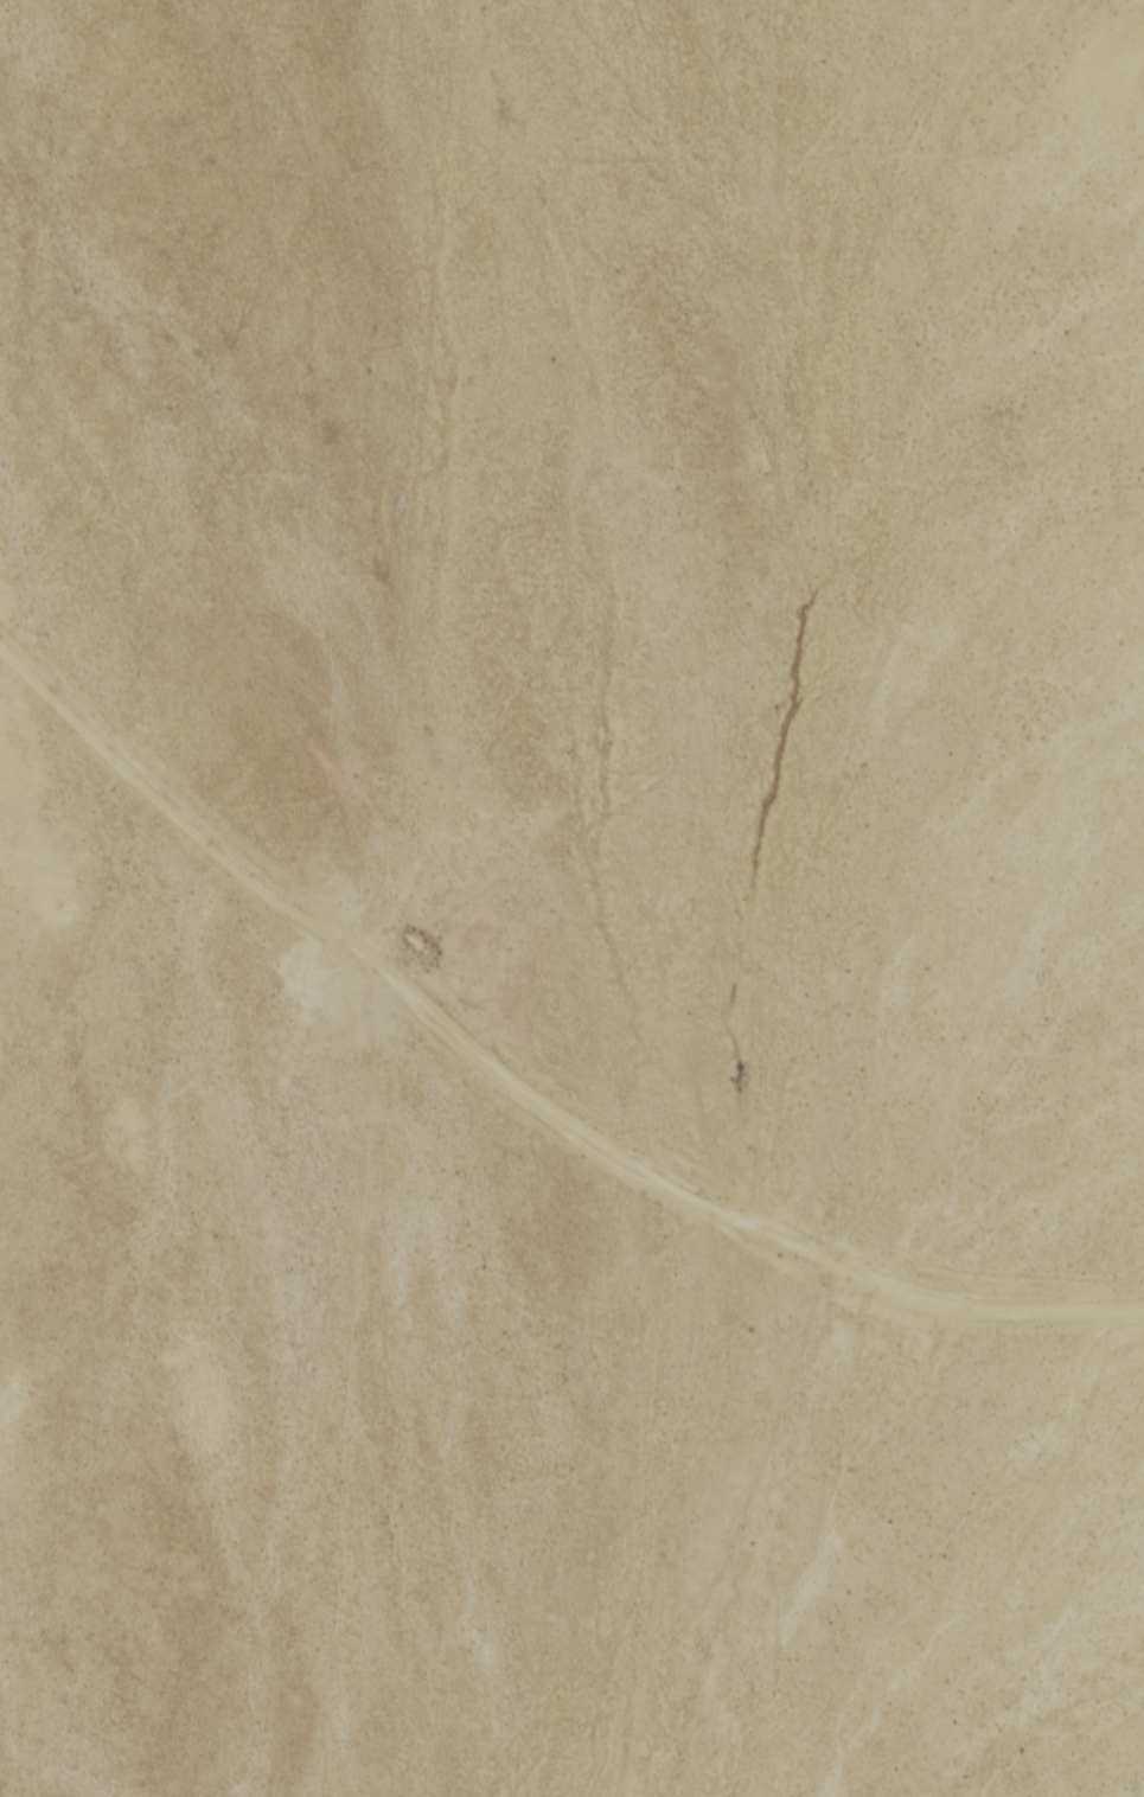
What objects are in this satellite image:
road: (520, 1053)

